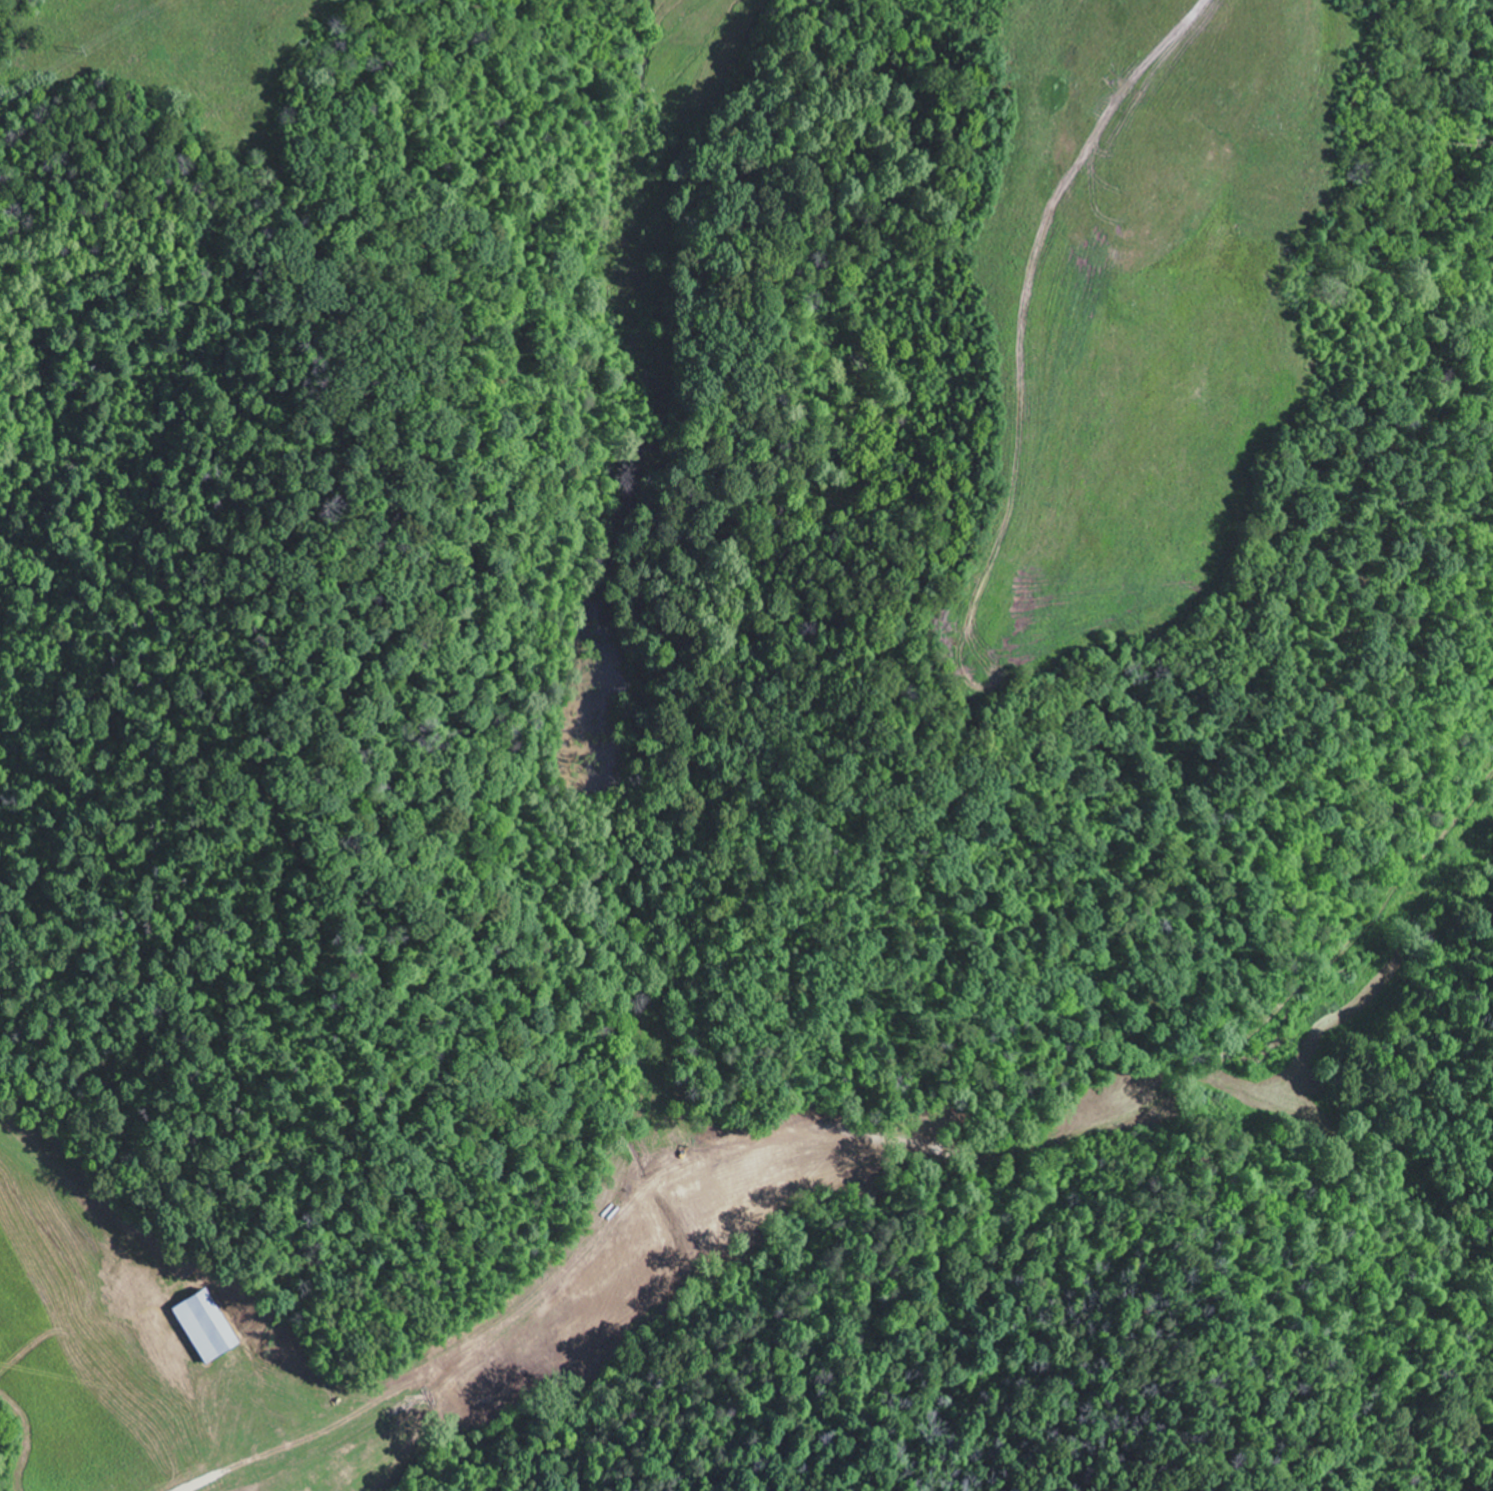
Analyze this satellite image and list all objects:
road: (736, 1203)
building: (207, 1327)

